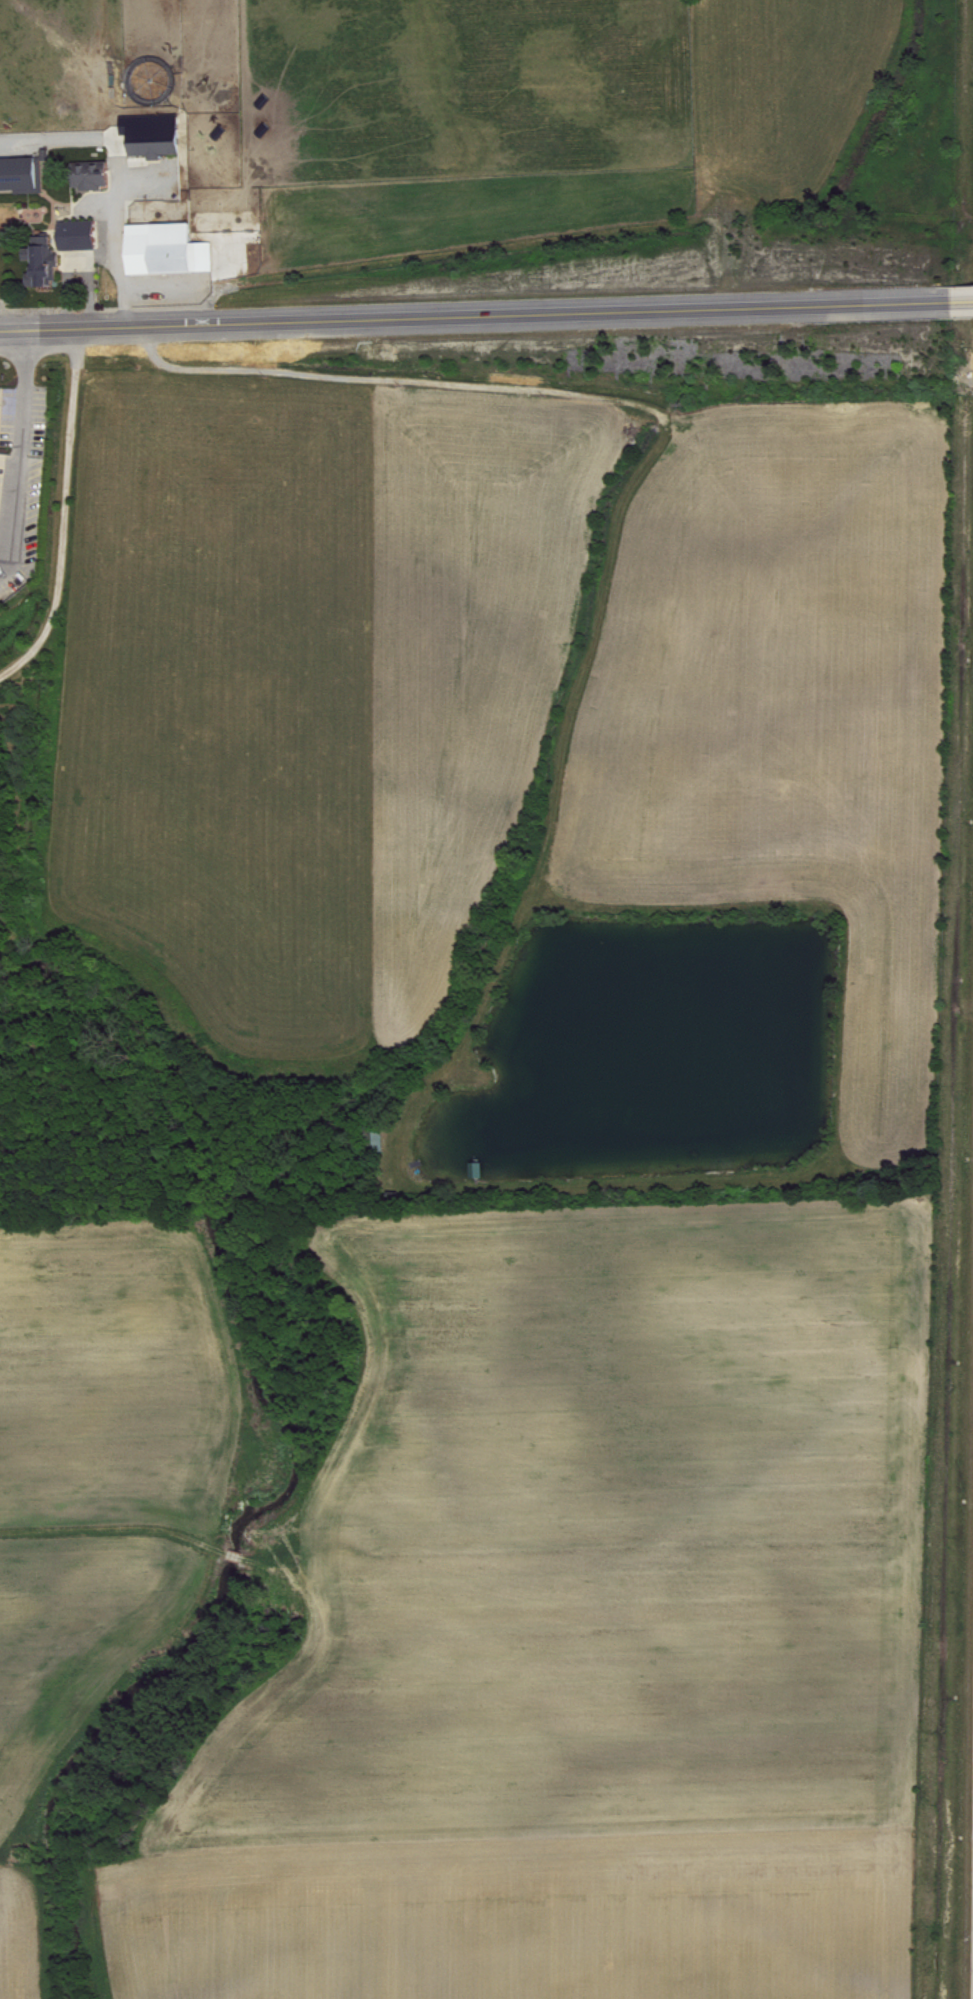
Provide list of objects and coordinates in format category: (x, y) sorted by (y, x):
building: (158, 140)
building: (22, 180)
building: (95, 180)
building: (83, 240)
building: (172, 254)
building: (46, 268)
road: (956, 303)
road: (469, 317)
building: (0, 420)
road: (26, 460)
building: (12, 506)
road: (64, 515)

